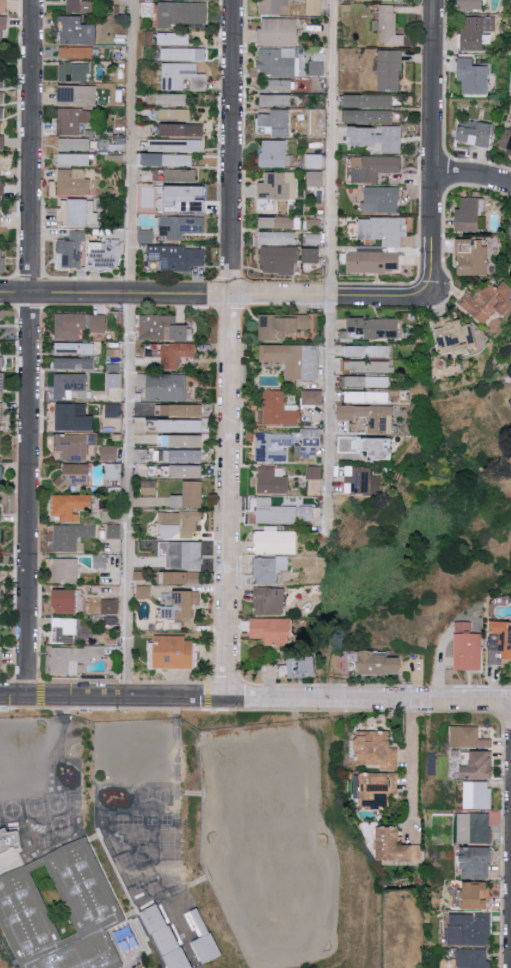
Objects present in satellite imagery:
building: (472, 4)
building: (2, 6)
building: (78, 6)
building: (274, 6)
building: (314, 7)
building: (177, 13)
building: (386, 23)
building: (3, 26)
building: (77, 31)
building: (279, 31)
building: (477, 31)
building: (172, 38)
building: (76, 52)
building: (182, 54)
building: (317, 68)
building: (390, 69)
building: (74, 72)
building: (182, 76)
building: (473, 76)
building: (275, 85)
building: (78, 95)
building: (171, 99)
building: (275, 99)
building: (369, 108)
building: (1, 112)
building: (174, 114)
building: (317, 116)
building: (74, 119)
building: (276, 121)
building: (183, 129)
building: (476, 133)
building: (380, 138)
building: (506, 140)
building: (2, 142)
building: (73, 144)
building: (176, 145)
road: (434, 147)
building: (273, 153)
building: (73, 159)
building: (168, 160)
building: (314, 160)
building: (373, 167)
building: (0, 175)
building: (180, 175)
road: (473, 177)
building: (315, 178)
building: (73, 182)
building: (278, 186)
building: (1, 196)
building: (184, 198)
building: (381, 199)
building: (64, 212)
building: (470, 214)
building: (0, 221)
building: (276, 222)
building: (181, 226)
building: (384, 229)
building: (510, 233)
building: (276, 237)
building: (70, 250)
building: (105, 254)
building: (313, 255)
building: (473, 256)
building: (177, 257)
building: (279, 259)
building: (2, 261)
building: (374, 262)
road: (331, 263)
road: (217, 293)
building: (488, 301)
building: (98, 323)
building: (68, 326)
building: (283, 327)
building: (376, 327)
building: (163, 328)
building: (456, 334)
building: (0, 347)
road: (31, 348)
building: (75, 348)
road: (132, 349)
road: (233, 349)
building: (367, 351)
building: (173, 353)
building: (294, 359)
building: (1, 363)
building: (75, 363)
building: (367, 366)
building: (114, 375)
building: (368, 381)
building: (69, 384)
building: (2, 385)
building: (164, 386)
building: (367, 396)
building: (313, 397)
building: (510, 402)
building: (181, 409)
building: (280, 409)
building: (114, 410)
building: (1, 415)
building: (370, 416)
building: (74, 417)
building: (174, 424)
building: (180, 440)
building: (309, 442)
building: (1, 444)
building: (366, 445)
building: (73, 446)
building: (272, 446)
building: (109, 452)
building: (139, 455)
building: (182, 455)
building: (186, 471)
building: (314, 472)
building: (74, 474)
building: (1, 477)
building: (272, 480)
building: (361, 481)
building: (149, 487)
building: (189, 495)
building: (0, 504)
building: (72, 505)
building: (274, 512)
building: (306, 513)
building: (179, 523)
building: (113, 531)
building: (71, 536)
building: (1, 537)
building: (276, 541)
building: (183, 554)
building: (100, 560)
building: (269, 569)
building: (65, 570)
building: (183, 578)
building: (144, 592)
building: (66, 601)
building: (270, 601)
building: (110, 606)
building: (181, 606)
building: (0, 629)
building: (66, 630)
building: (271, 630)
building: (500, 641)
building: (467, 647)
building: (174, 653)
building: (0, 656)
building: (68, 659)
building: (378, 663)
building: (301, 667)
road: (116, 697)
road: (371, 700)
building: (469, 736)
road: (58, 745)
building: (378, 748)
road: (412, 763)
building: (480, 764)
building: (378, 789)
building: (478, 794)
building: (475, 827)
building: (10, 839)
building: (396, 845)
building: (478, 861)
building: (478, 894)
building: (63, 910)
building: (470, 928)
building: (168, 937)
building: (127, 938)
building: (210, 947)
building: (473, 958)

